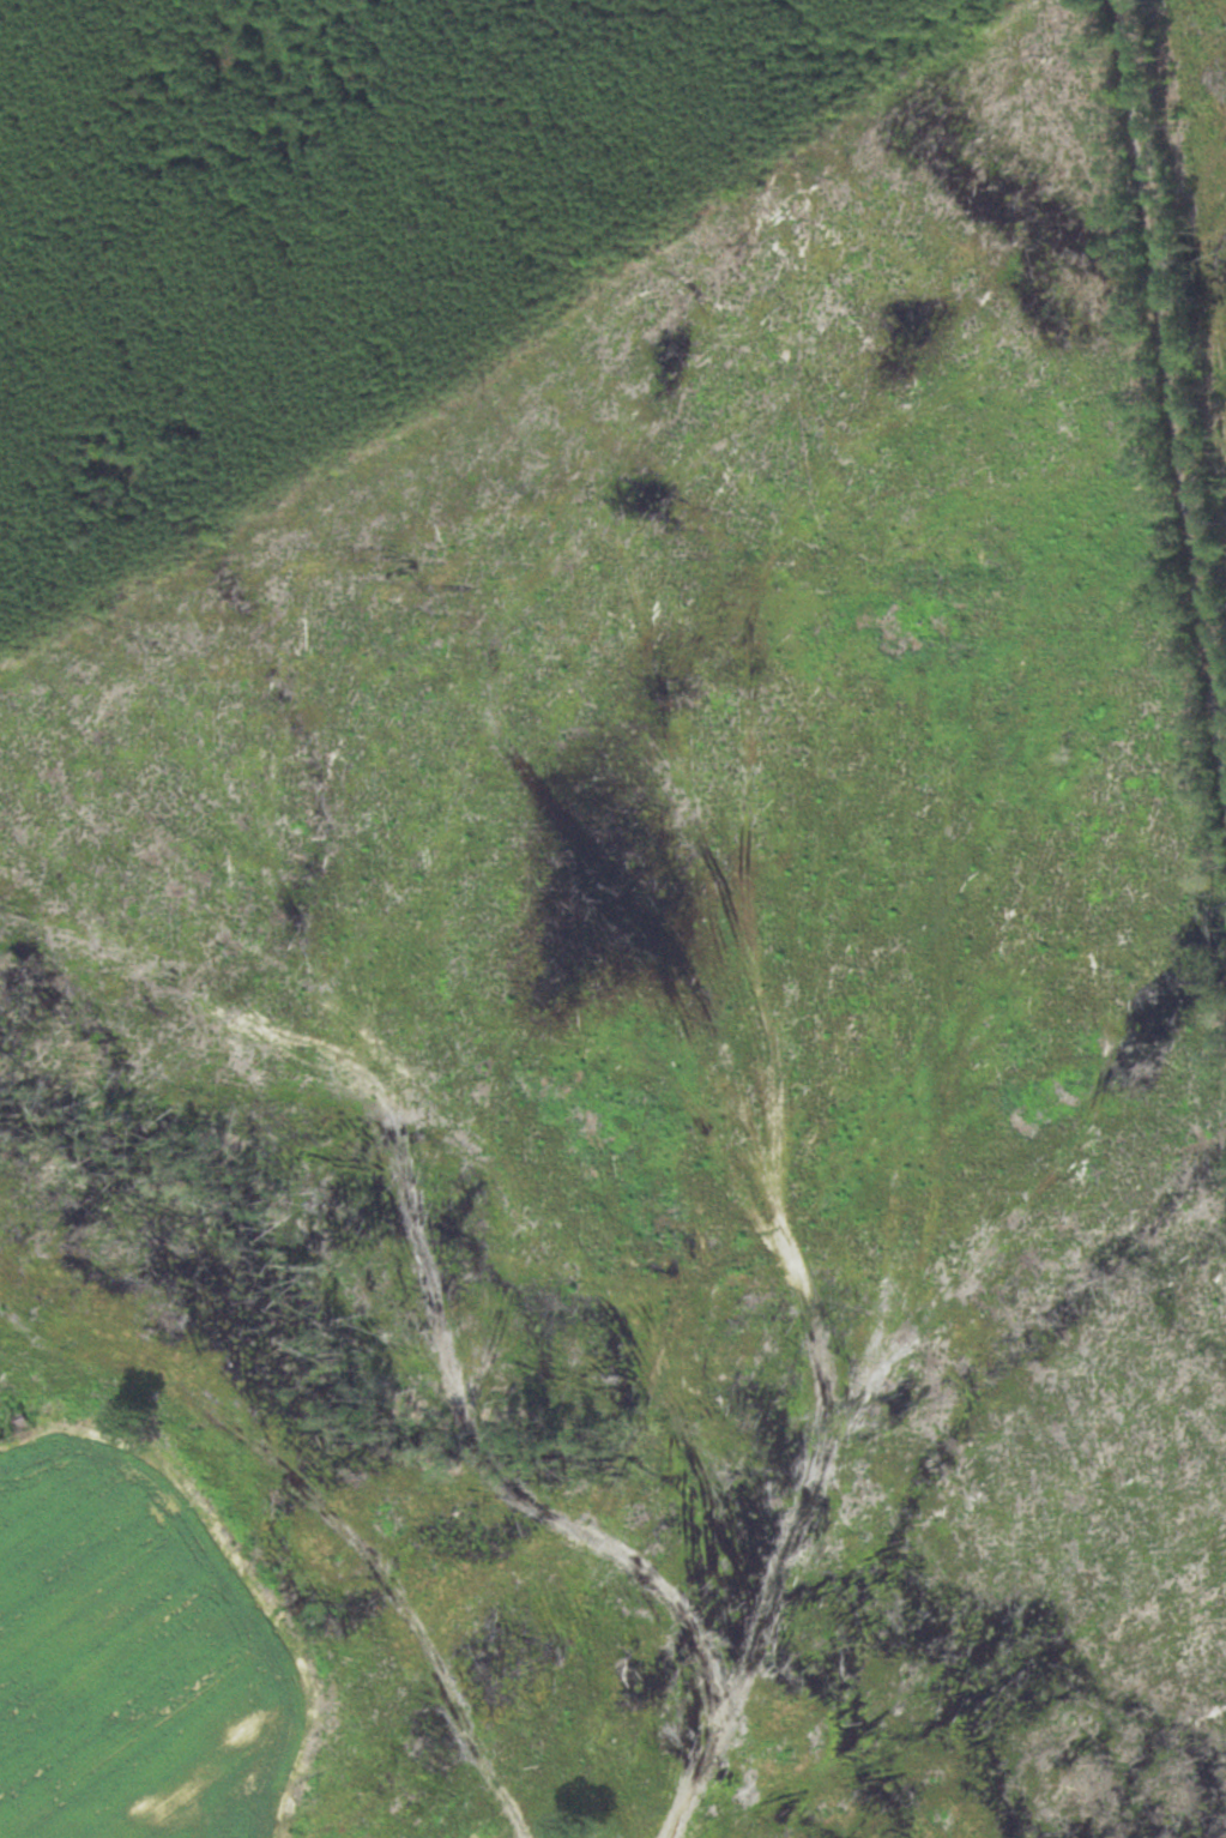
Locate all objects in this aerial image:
railway: (1171, 393)

